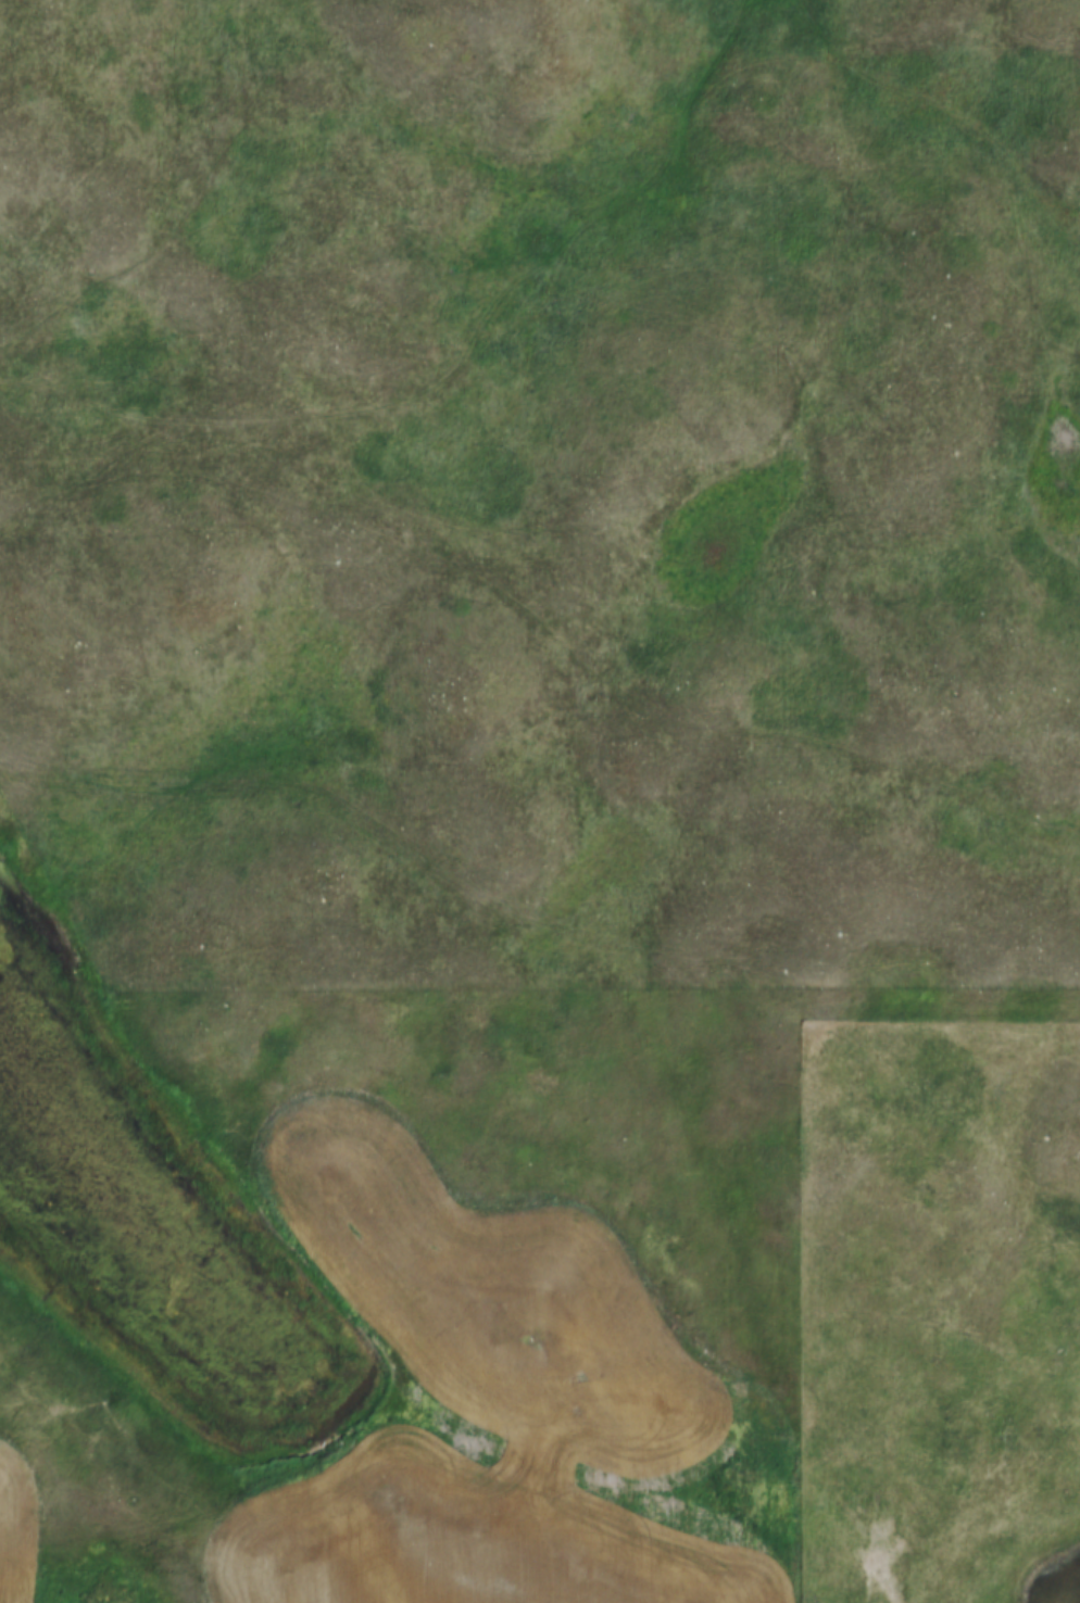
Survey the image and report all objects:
road: (782, 1304)

